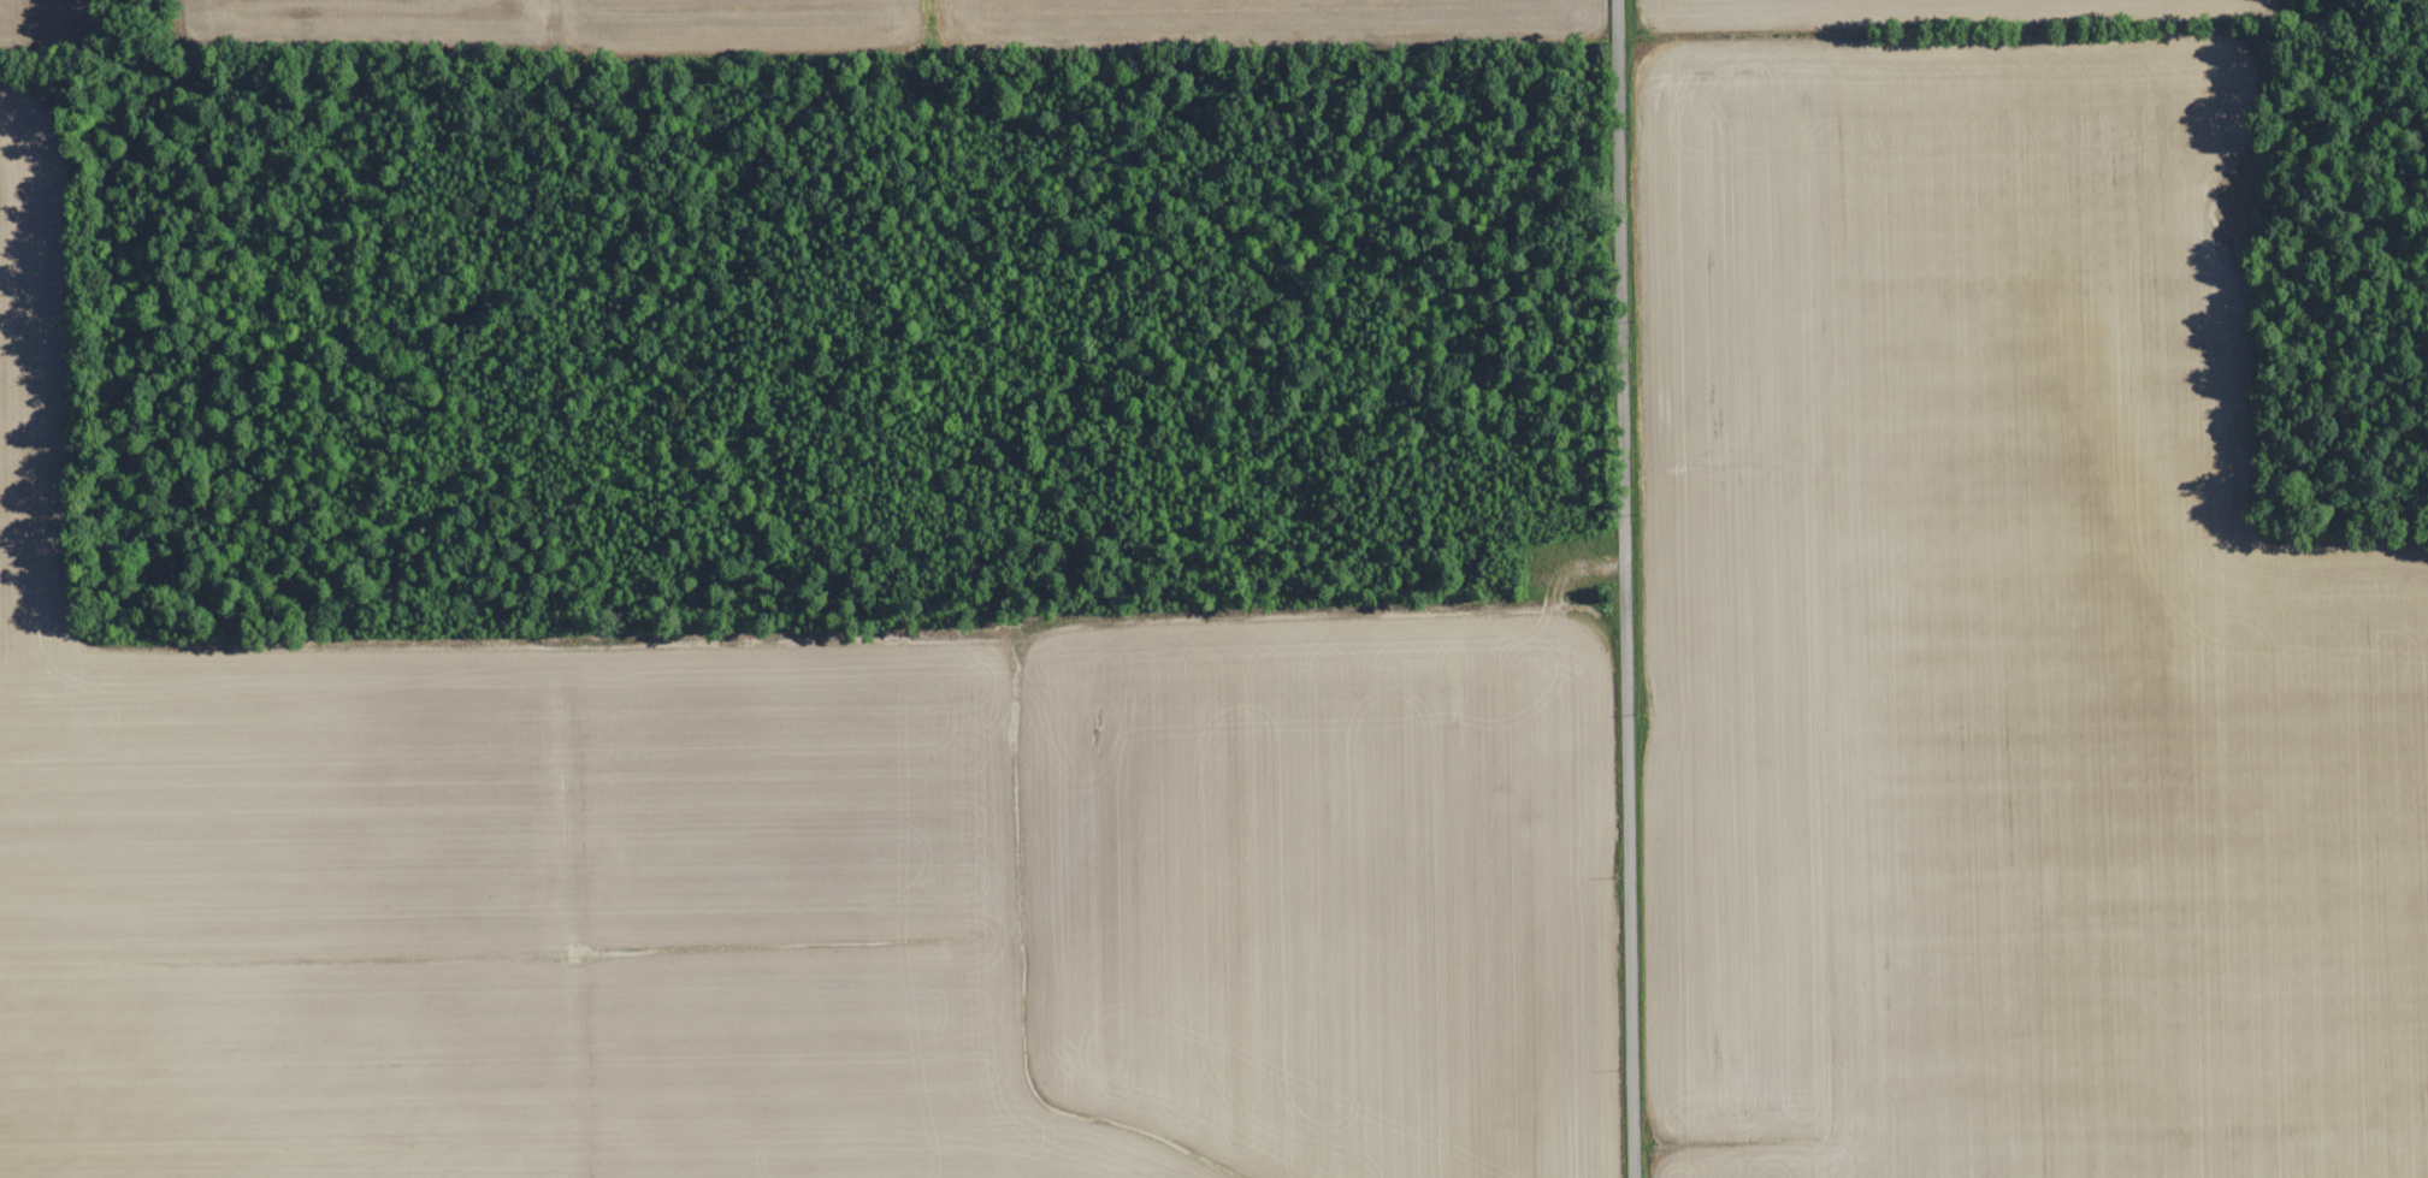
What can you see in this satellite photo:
road: (1624, 588)

